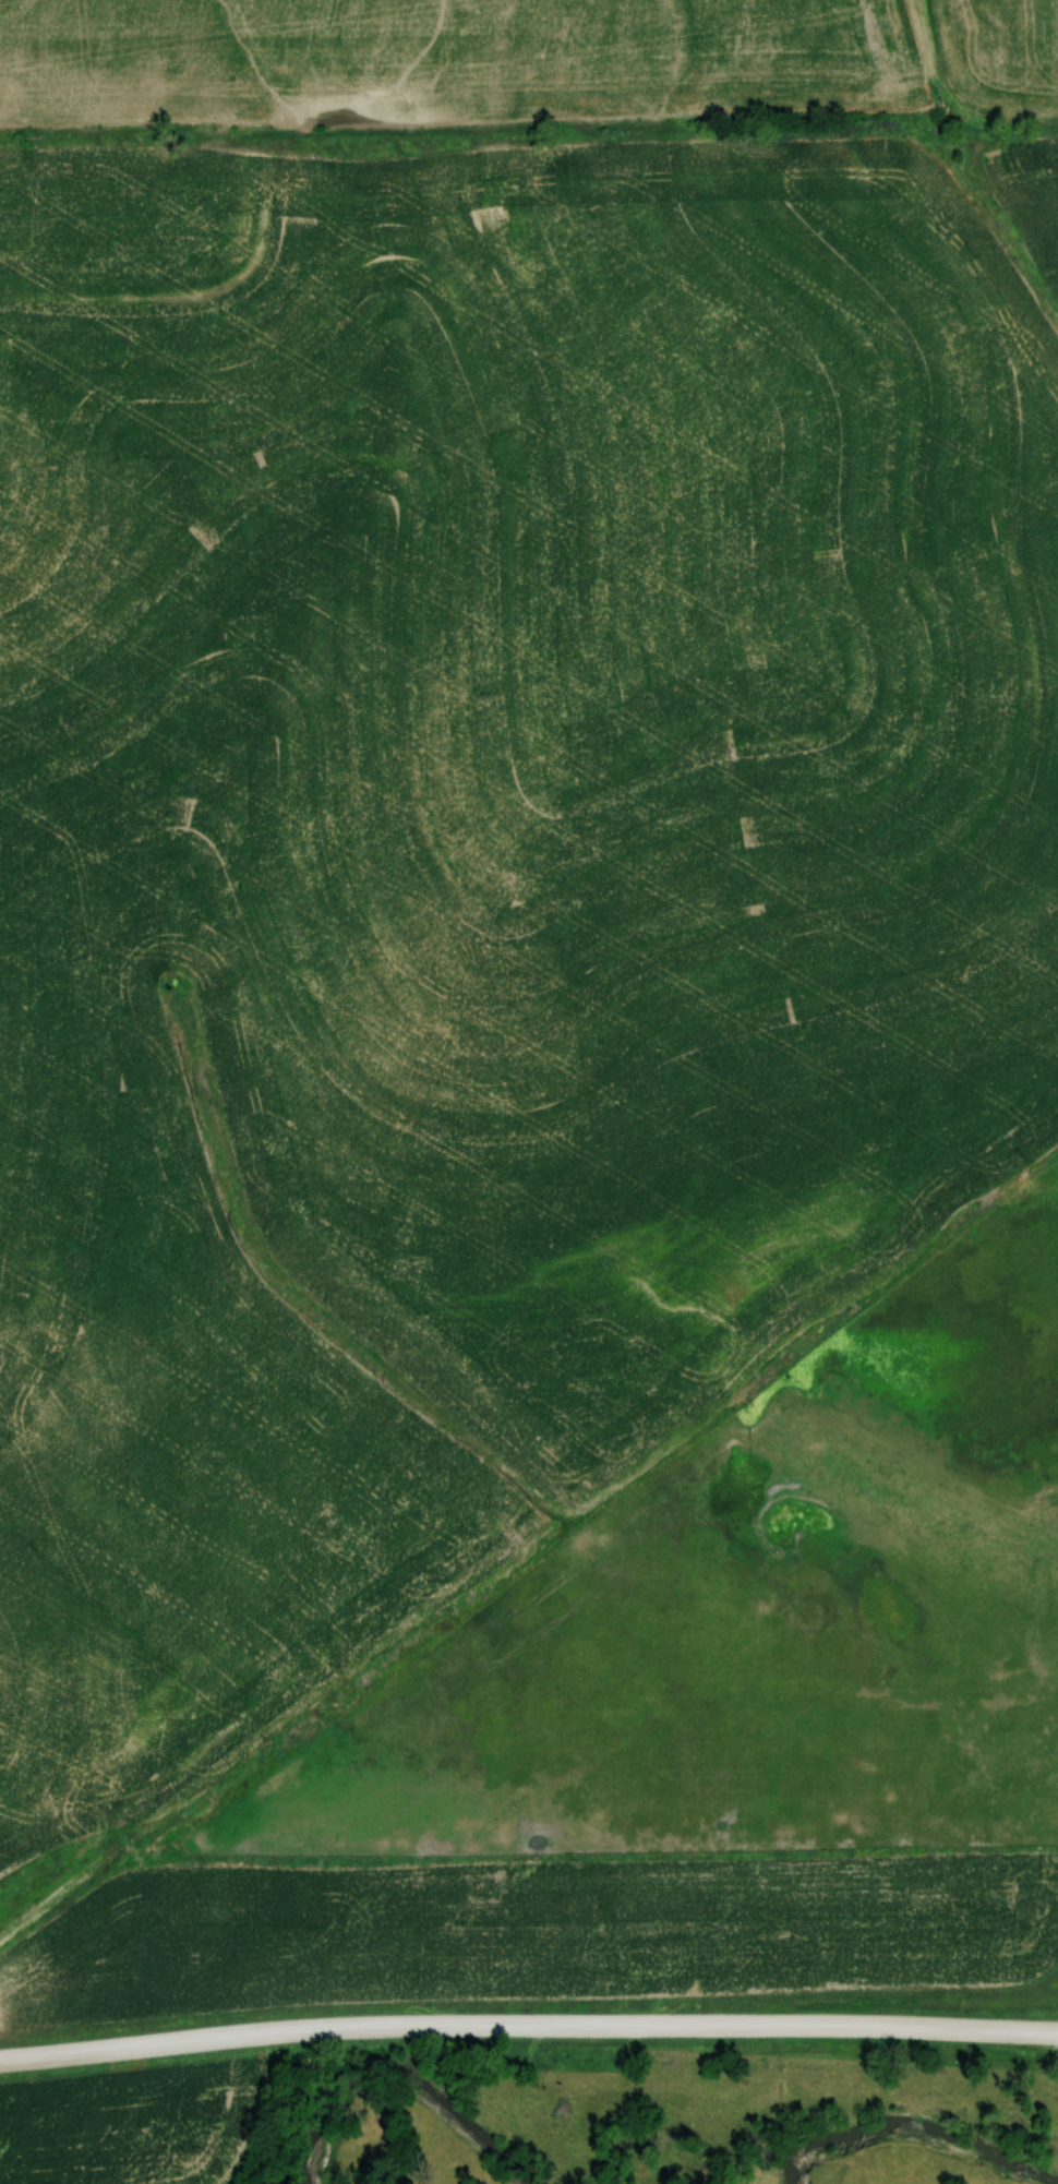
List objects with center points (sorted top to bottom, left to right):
road: (528, 2023)
river: (402, 2071)
river: (910, 2124)

